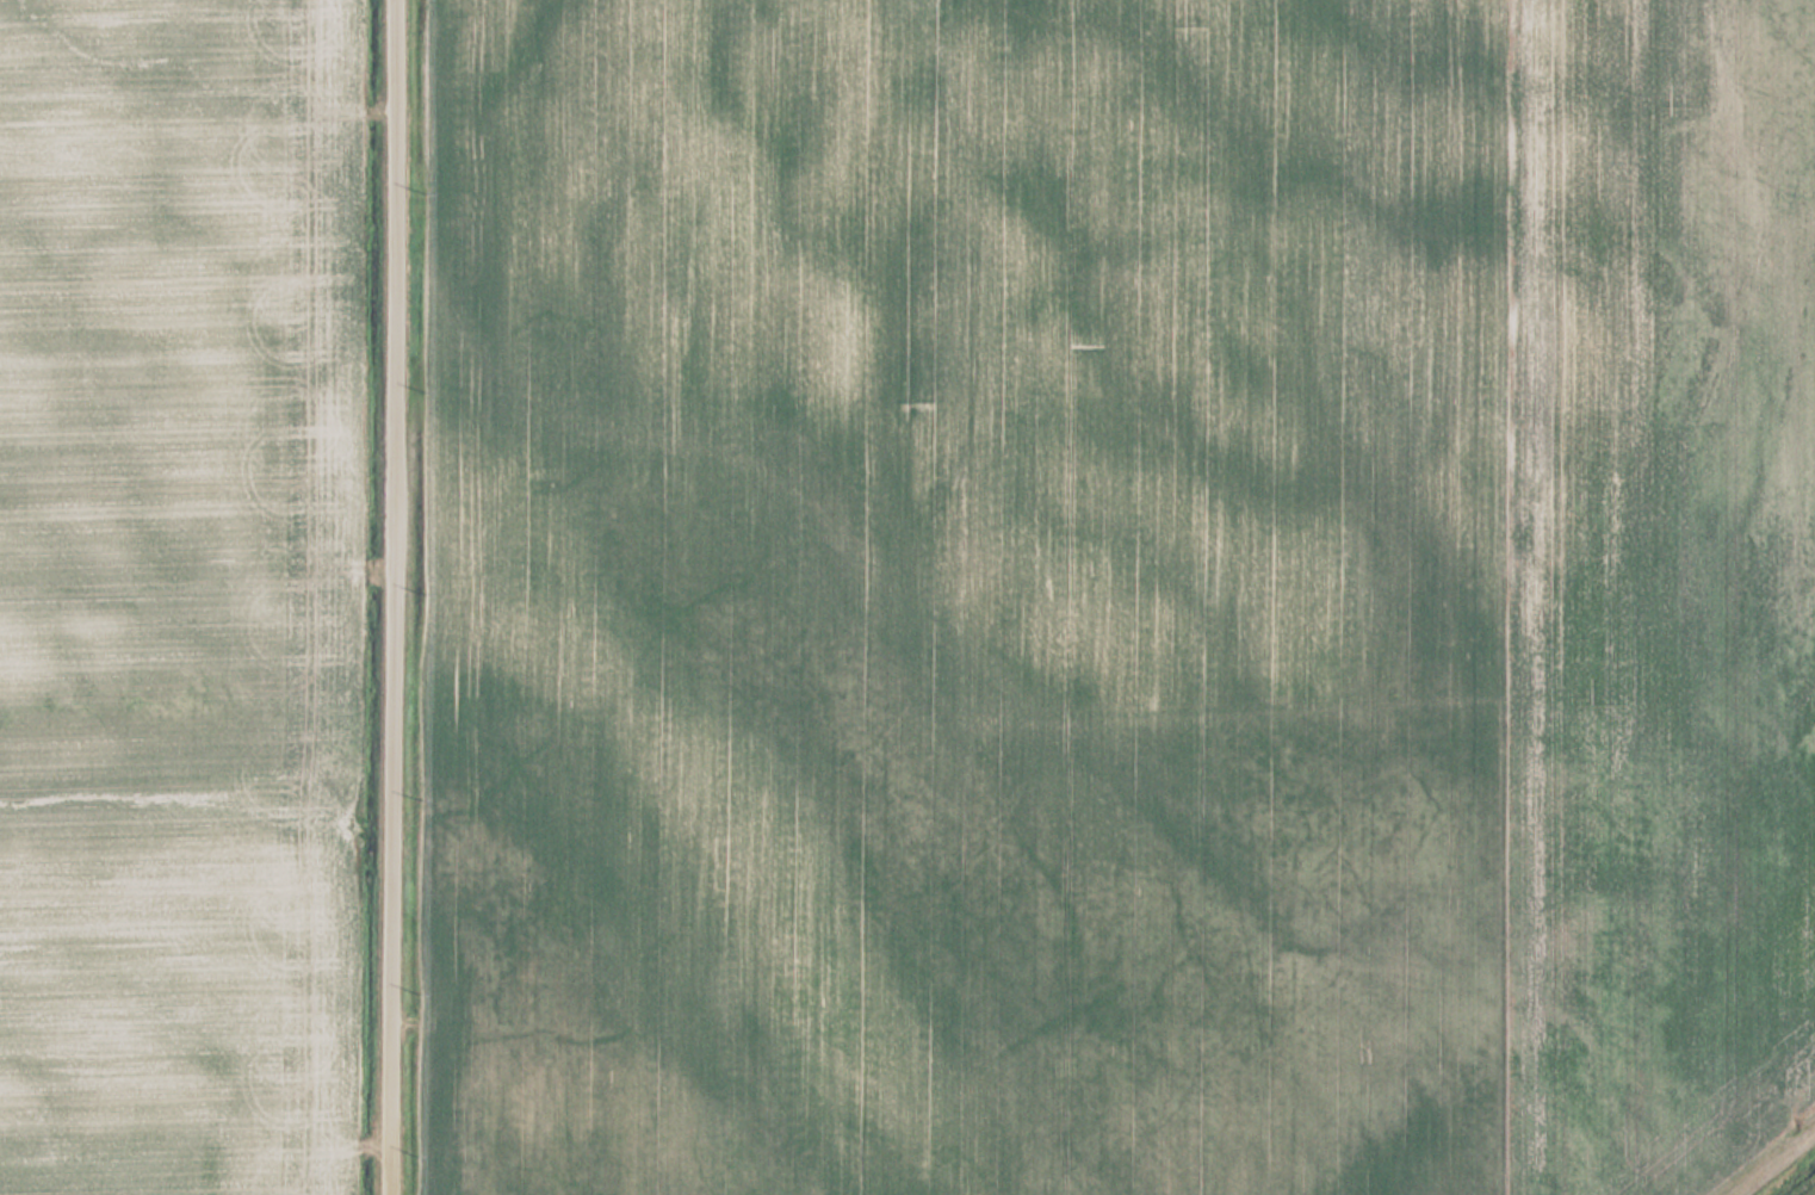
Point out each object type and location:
road: (390, 597)

